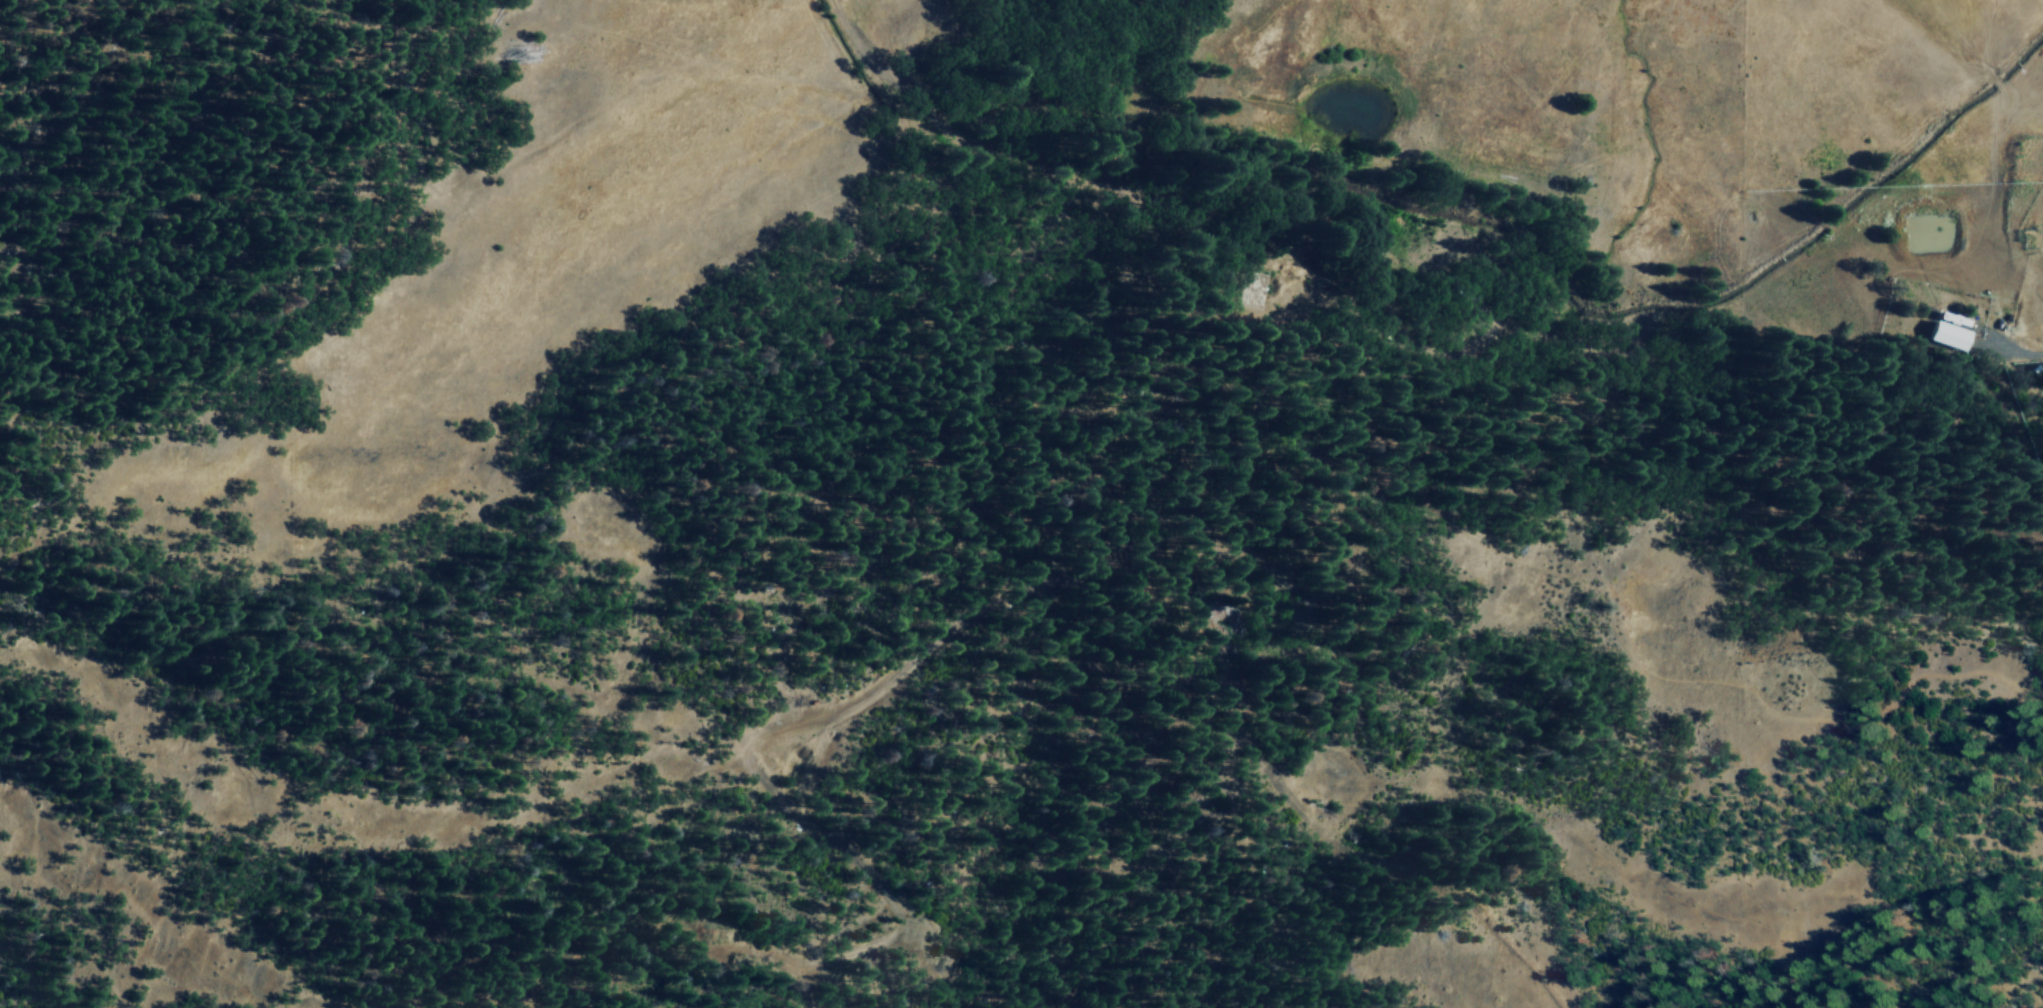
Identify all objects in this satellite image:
building: (1947, 334)

